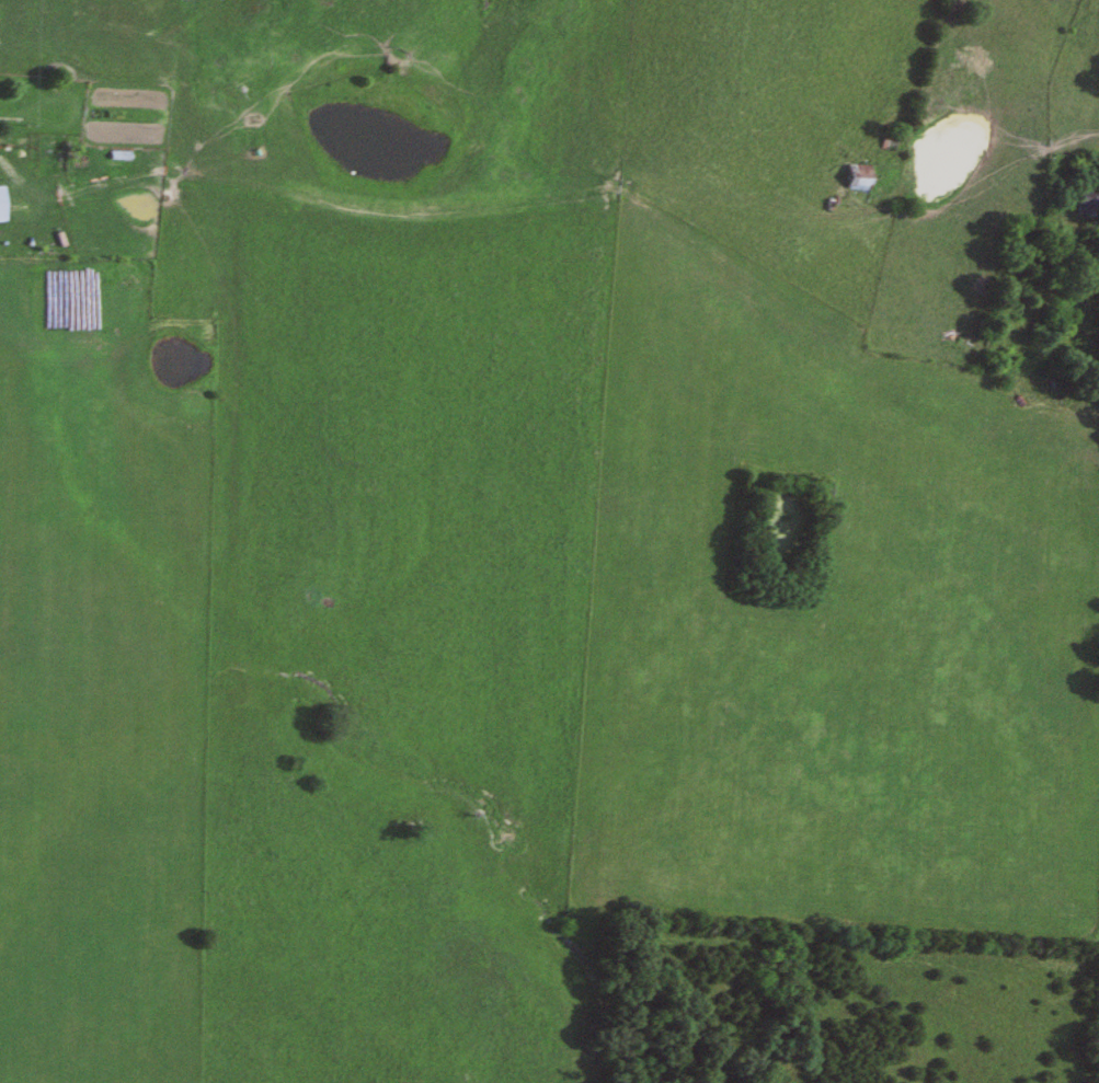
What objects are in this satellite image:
building: (883, 141)
building: (852, 178)
building: (1080, 201)
building: (952, 339)

